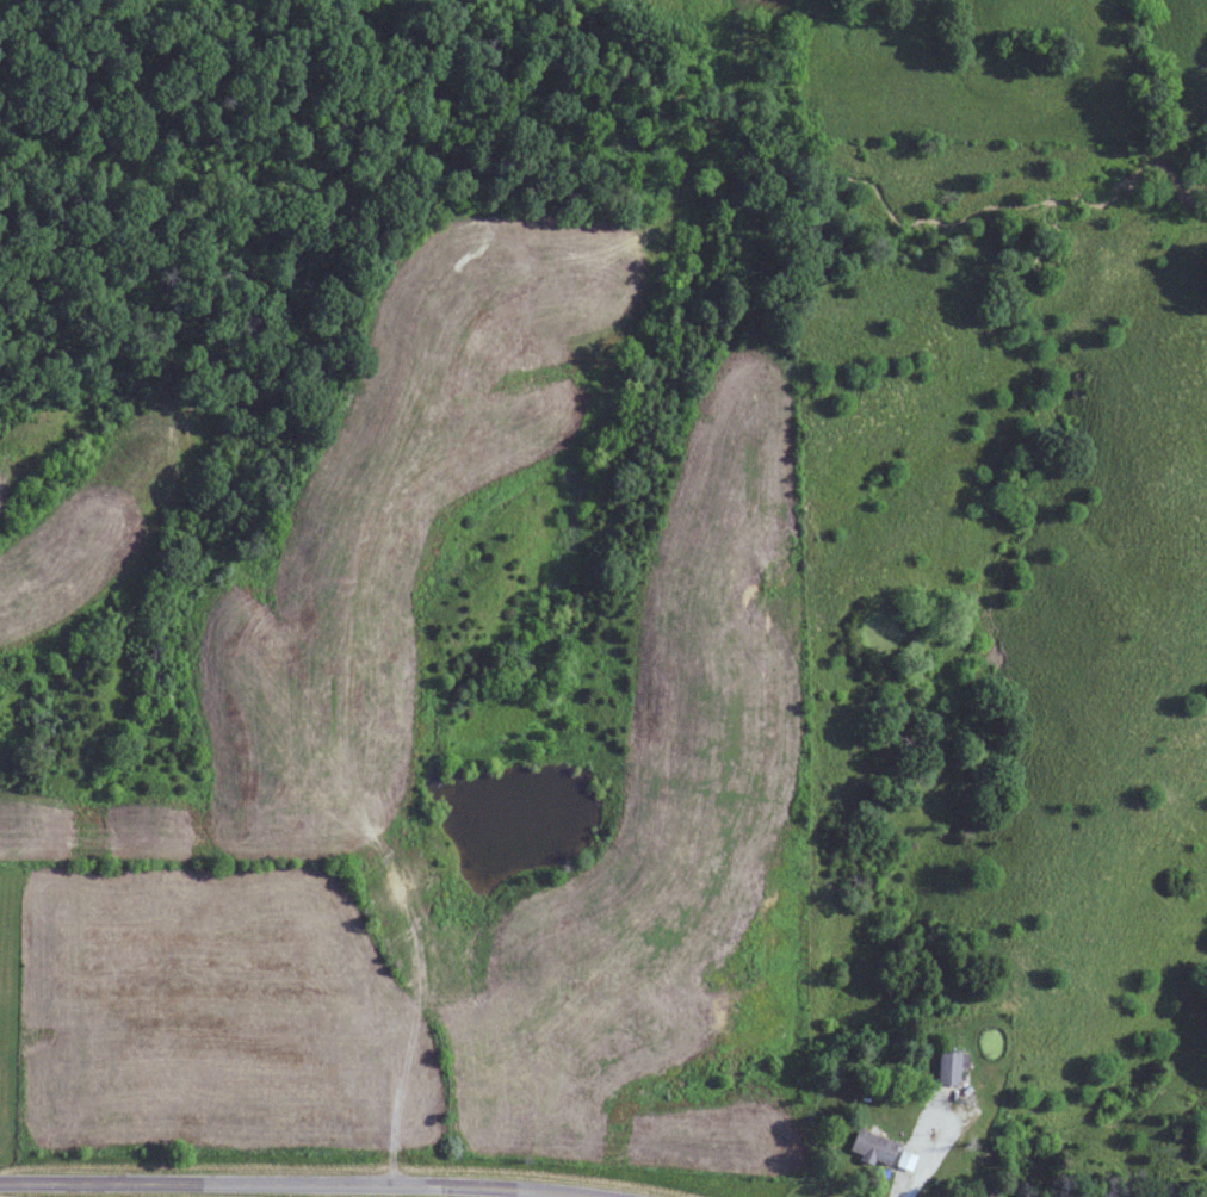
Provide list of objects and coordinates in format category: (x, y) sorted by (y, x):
building: (952, 1067)
building: (877, 1147)
road: (304, 1184)

